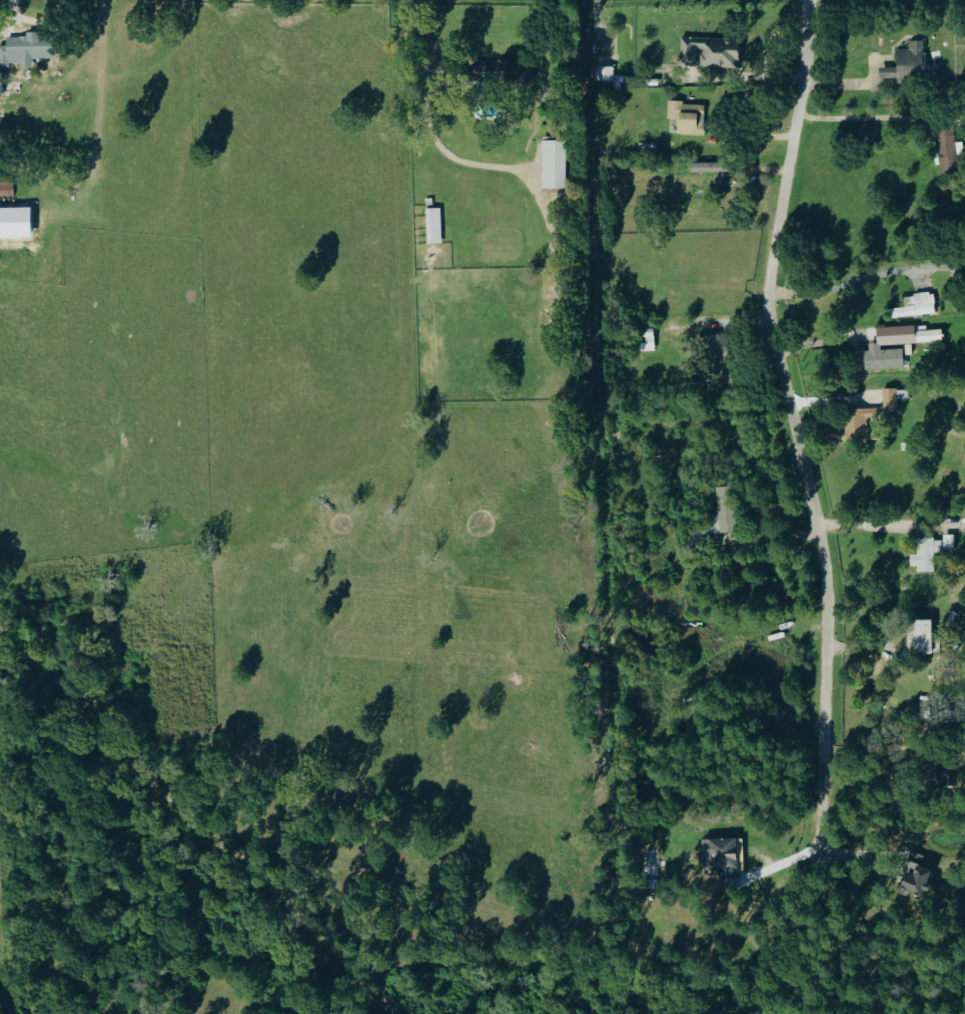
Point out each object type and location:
road: (424, 39)
building: (28, 48)
building: (709, 52)
building: (906, 64)
road: (856, 117)
building: (688, 118)
building: (946, 151)
building: (553, 165)
building: (710, 170)
building: (6, 188)
building: (433, 226)
road: (856, 279)
building: (916, 305)
building: (647, 340)
building: (896, 345)
building: (716, 352)
building: (859, 422)
road: (793, 423)
building: (723, 511)
road: (866, 525)
building: (925, 554)
building: (919, 636)
river: (191, 827)
building: (719, 856)
road: (784, 863)
building: (916, 876)

